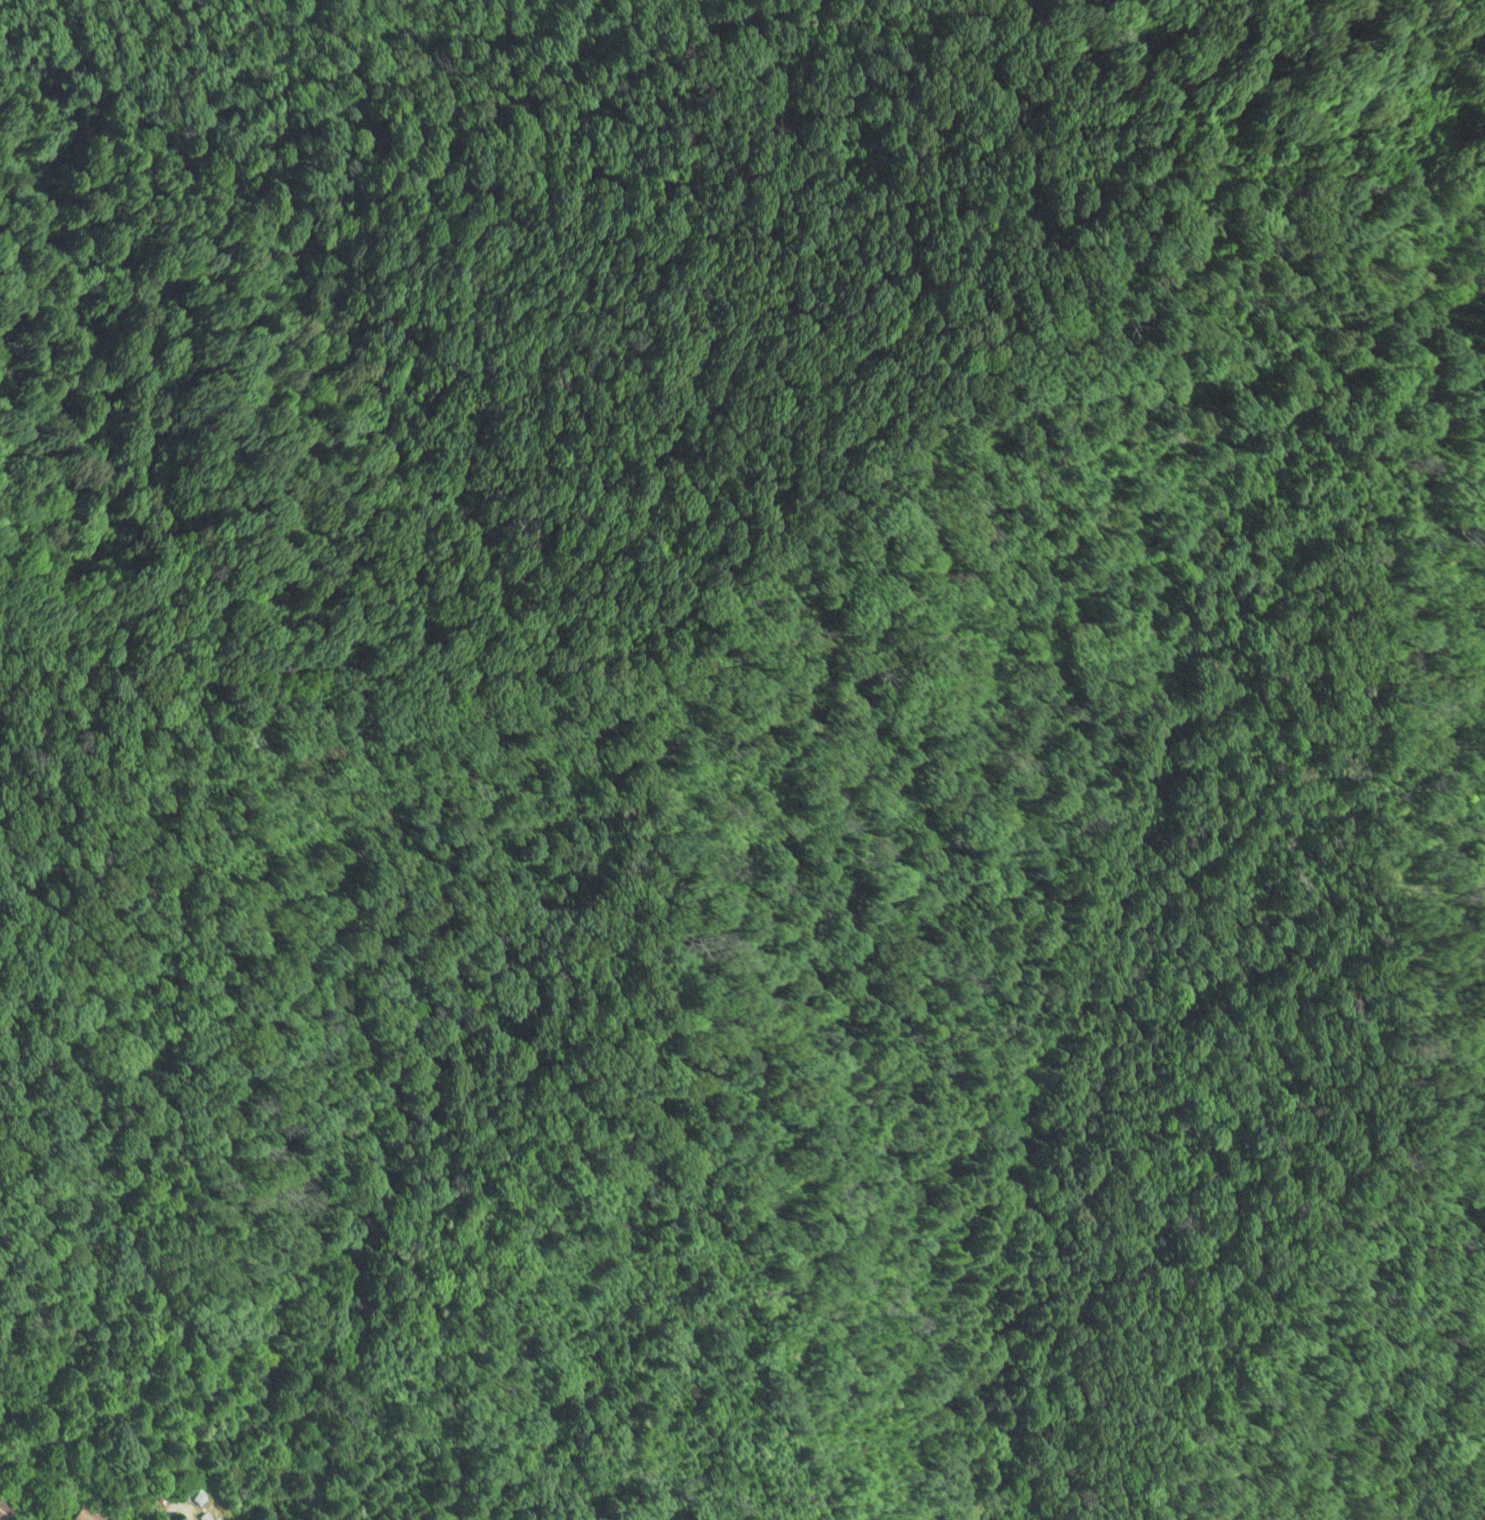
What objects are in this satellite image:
building: (199, 1499)
building: (3, 1512)
building: (83, 1513)
road: (168, 1515)
building: (203, 1518)
building: (178, 1519)

